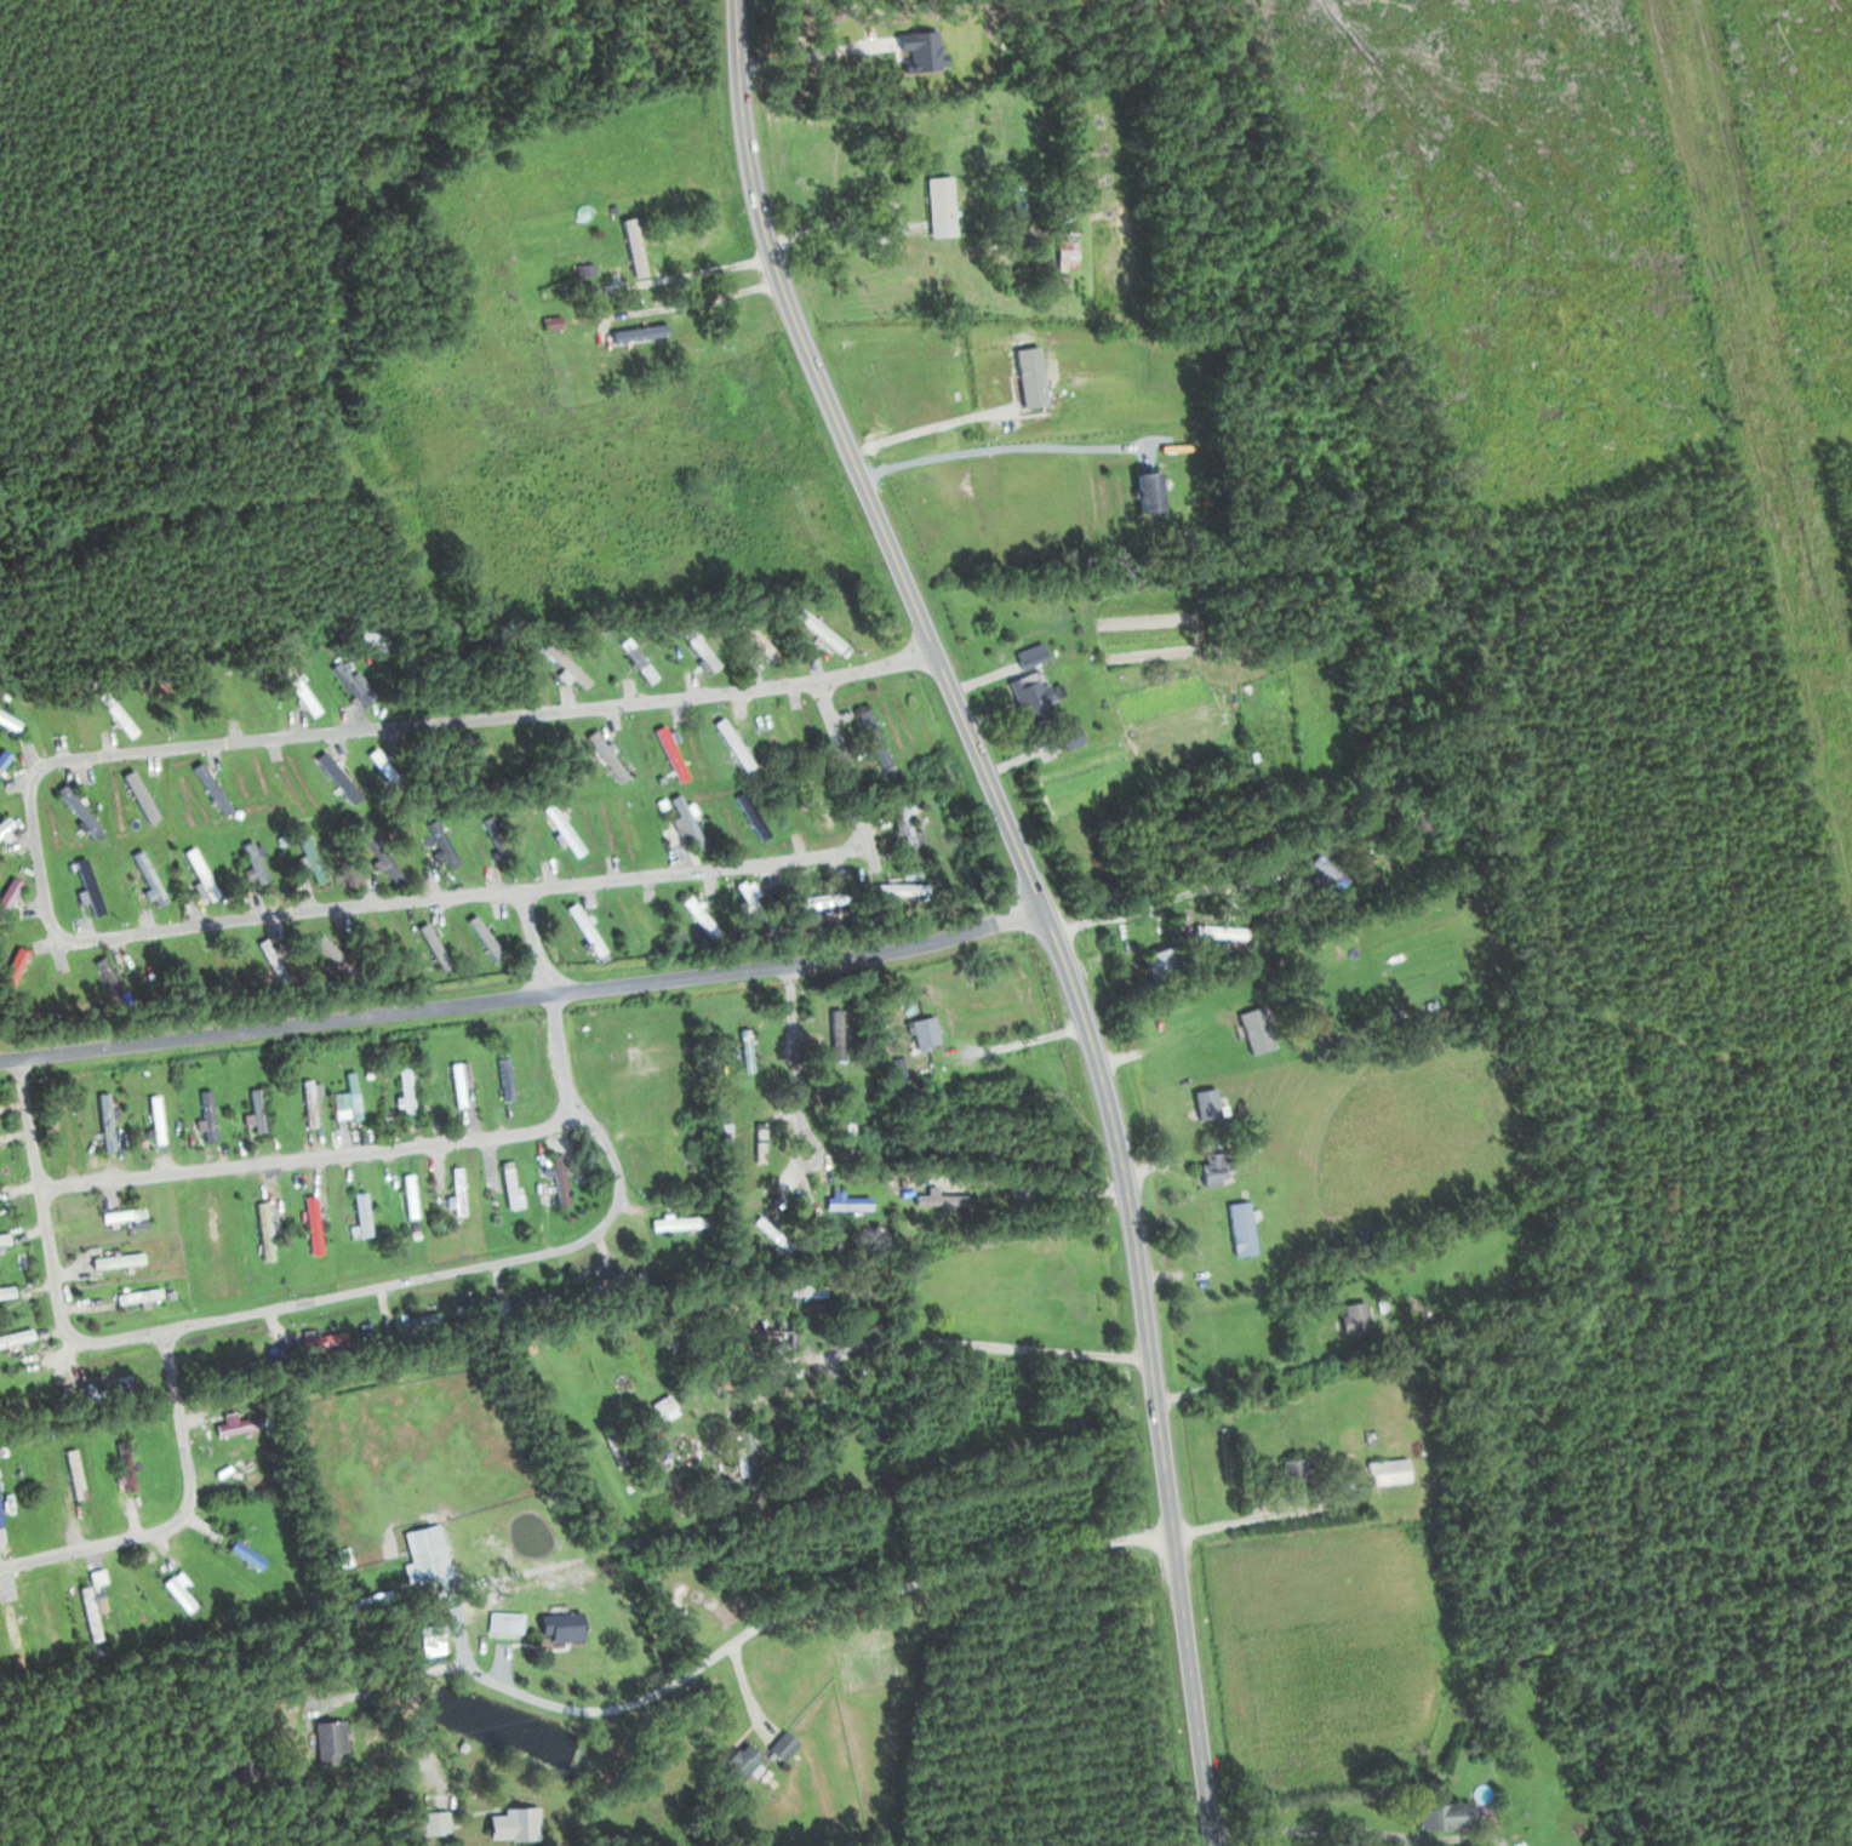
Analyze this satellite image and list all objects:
power tower: (1677, 6)
building: (938, 206)
building: (1063, 250)
building: (630, 257)
building: (635, 332)
power tower: (1789, 478)
building: (1143, 493)
building: (816, 629)
building: (754, 640)
building: (697, 647)
building: (1027, 653)
building: (565, 664)
road: (876, 665)
building: (347, 685)
building: (301, 695)
building: (1028, 695)
building: (6, 721)
building: (1065, 733)
building: (730, 743)
building: (665, 751)
building: (1, 755)
building: (604, 756)
building: (373, 759)
building: (328, 770)
building: (208, 789)
building: (810, 801)
building: (74, 807)
building: (749, 815)
building: (685, 821)
building: (905, 822)
building: (560, 830)
building: (439, 842)
building: (501, 850)
building: (305, 852)
building: (251, 862)
building: (384, 865)
building: (1394, 869)
building: (1316, 870)
building: (145, 876)
building: (86, 884)
building: (897, 888)
building: (819, 898)
road: (1046, 902)
building: (696, 916)
building: (640, 928)
building: (582, 931)
building: (1216, 932)
road: (70, 939)
road: (535, 942)
building: (326, 949)
building: (267, 955)
building: (1155, 960)
building: (10, 965)
building: (104, 977)
road: (527, 998)
building: (1252, 1029)
building: (919, 1031)
building: (742, 1047)
building: (893, 1067)
building: (456, 1084)
road: (798, 1086)
building: (400, 1088)
building: (349, 1095)
building: (305, 1102)
building: (1202, 1102)
building: (253, 1109)
building: (205, 1114)
building: (842, 1115)
building: (152, 1118)
building: (103, 1121)
building: (756, 1142)
road: (311, 1158)
building: (1211, 1167)
building: (558, 1183)
building: (507, 1184)
building: (453, 1189)
building: (406, 1195)
building: (932, 1199)
building: (846, 1202)
building: (358, 1213)
building: (119, 1215)
building: (208, 1224)
building: (308, 1224)
building: (1239, 1227)
building: (261, 1230)
building: (1, 1240)
building: (114, 1261)
building: (5, 1291)
road: (326, 1296)
building: (122, 1297)
building: (1349, 1318)
building: (413, 1321)
building: (756, 1331)
building: (13, 1337)
building: (101, 1383)
building: (659, 1405)
building: (232, 1425)
building: (612, 1448)
building: (736, 1461)
building: (120, 1465)
building: (1384, 1471)
building: (69, 1473)
building: (1293, 1474)
road: (182, 1515)
building: (240, 1554)
building: (421, 1565)
building: (87, 1602)
building: (504, 1625)
building: (558, 1625)
building: (7, 1631)
road: (742, 1638)
building: (324, 1741)
building: (779, 1745)
building: (734, 1762)
building: (1440, 1816)
building: (508, 1823)
building: (425, 1824)

